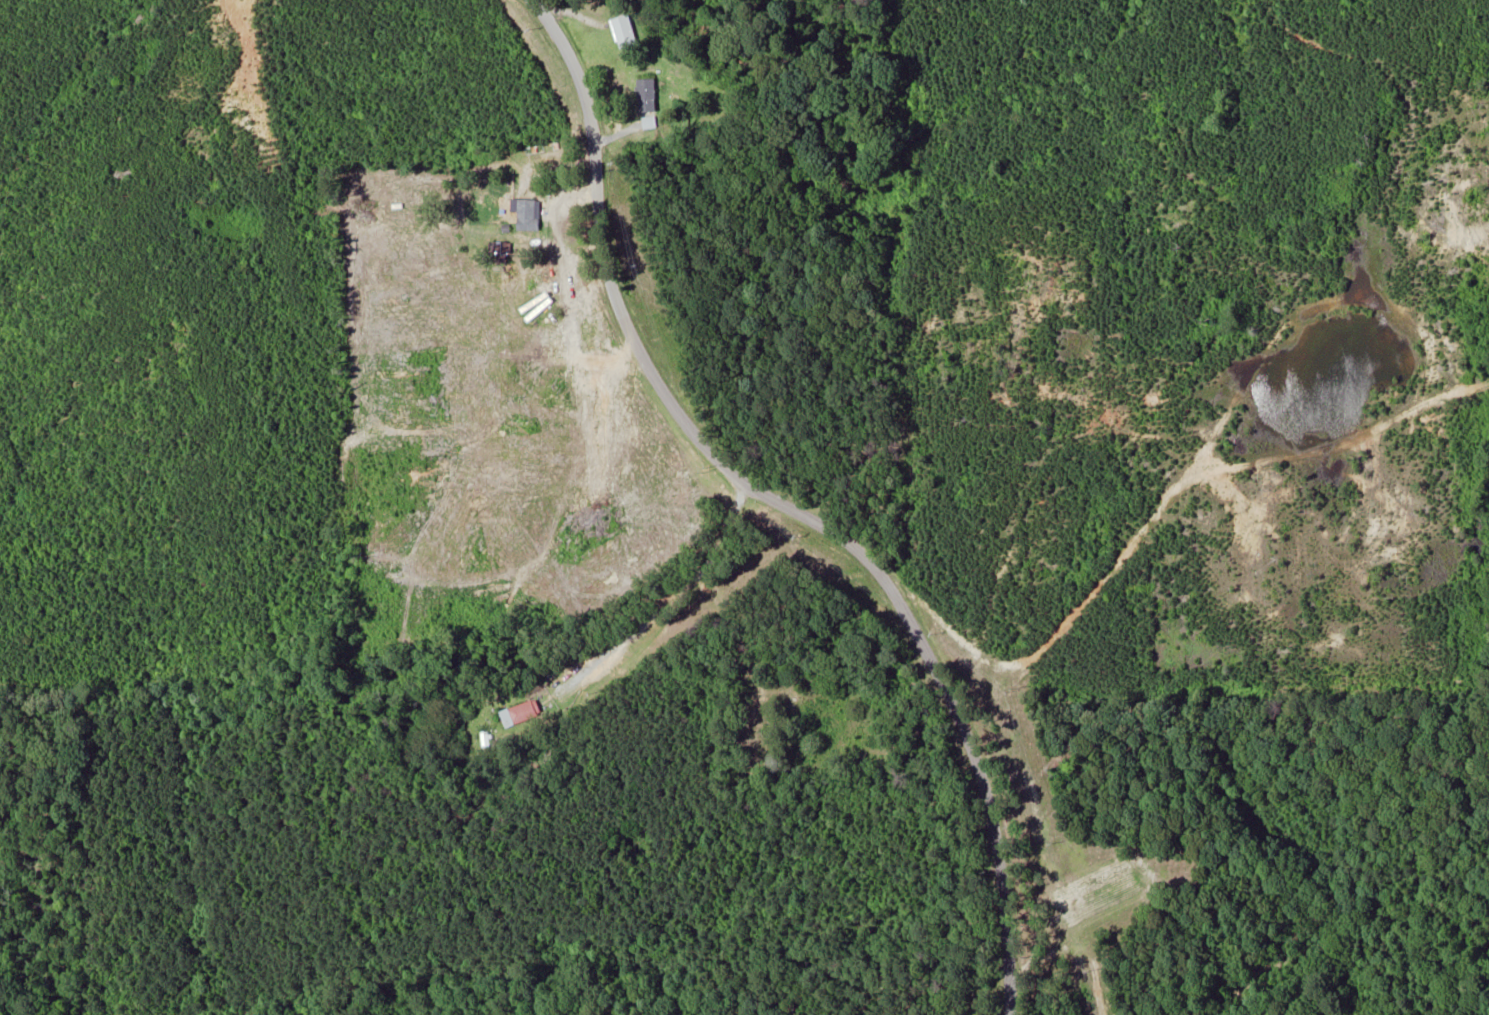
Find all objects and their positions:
building: (625, 31)
building: (648, 95)
building: (529, 215)
road: (755, 513)
road: (673, 644)
building: (522, 714)

